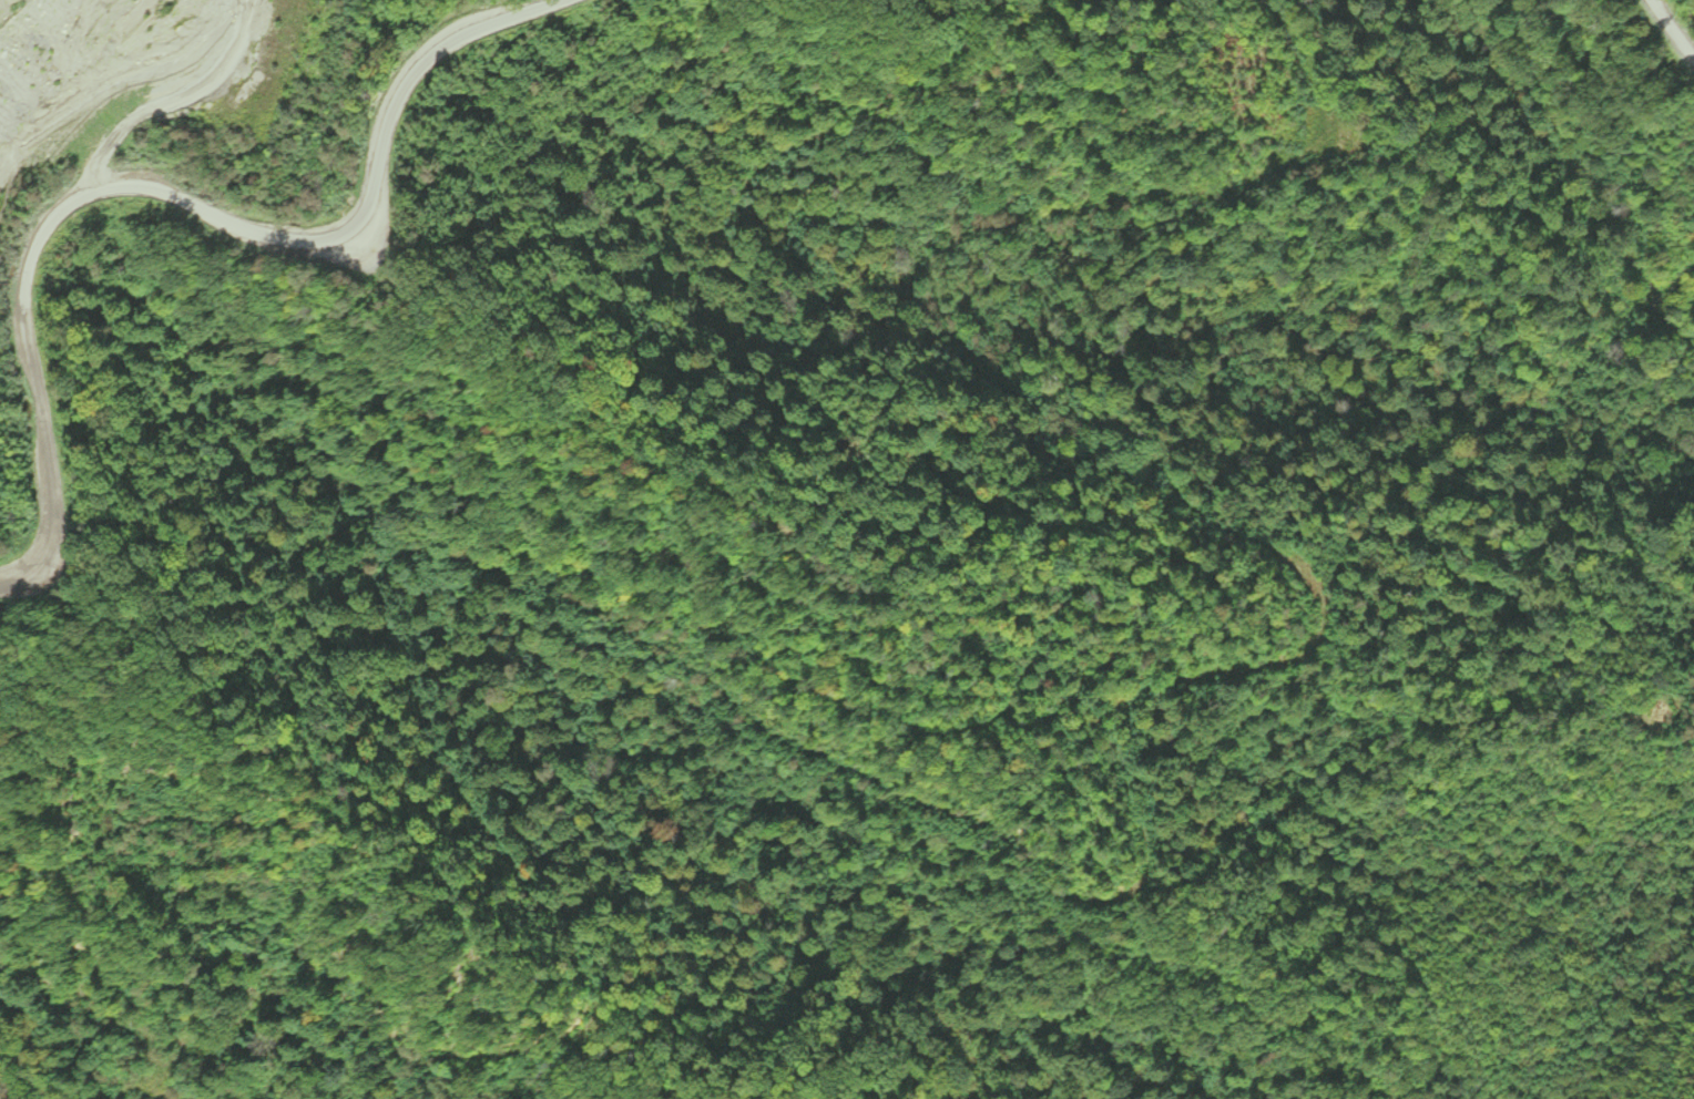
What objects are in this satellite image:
quarry: (123, 85)

